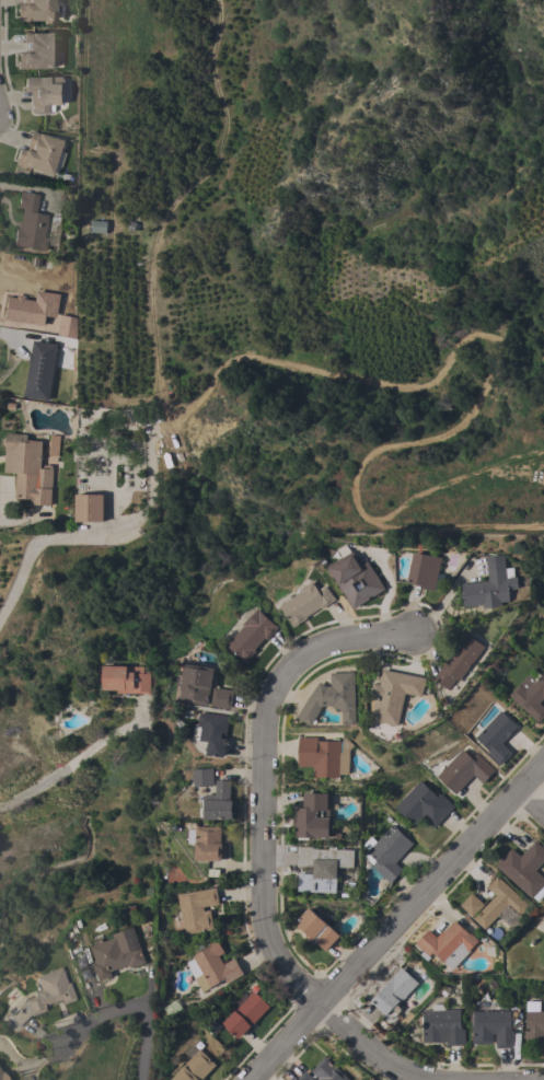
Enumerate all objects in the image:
building: (35, 10)
building: (37, 50)
building: (44, 92)
building: (40, 153)
road: (174, 201)
building: (30, 223)
crop: (317, 257)
road: (10, 332)
road: (489, 358)
building: (37, 370)
building: (53, 445)
building: (27, 468)
building: (88, 508)
road: (15, 522)
road: (92, 536)
building: (425, 571)
building: (355, 579)
building: (489, 585)
building: (305, 603)
building: (251, 636)
building: (459, 662)
building: (127, 678)
building: (196, 684)
building: (530, 695)
building: (393, 696)
building: (221, 698)
building: (331, 698)
building: (211, 733)
building: (496, 736)
building: (324, 756)
road: (74, 764)
building: (463, 770)
road: (262, 776)
building: (204, 777)
road: (531, 800)
building: (218, 802)
building: (423, 805)
building: (314, 818)
building: (207, 844)
building: (387, 852)
building: (321, 868)
building: (524, 869)
building: (471, 905)
building: (500, 907)
building: (197, 910)
road: (400, 919)
building: (315, 929)
building: (449, 942)
building: (115, 956)
building: (211, 967)
building: (393, 994)
building: (43, 995)
road: (132, 1008)
building: (245, 1014)
building: (534, 1025)
building: (441, 1026)
building: (491, 1029)
road: (369, 1047)
building: (194, 1068)
building: (326, 1071)
building: (2, 1075)
building: (304, 1077)

